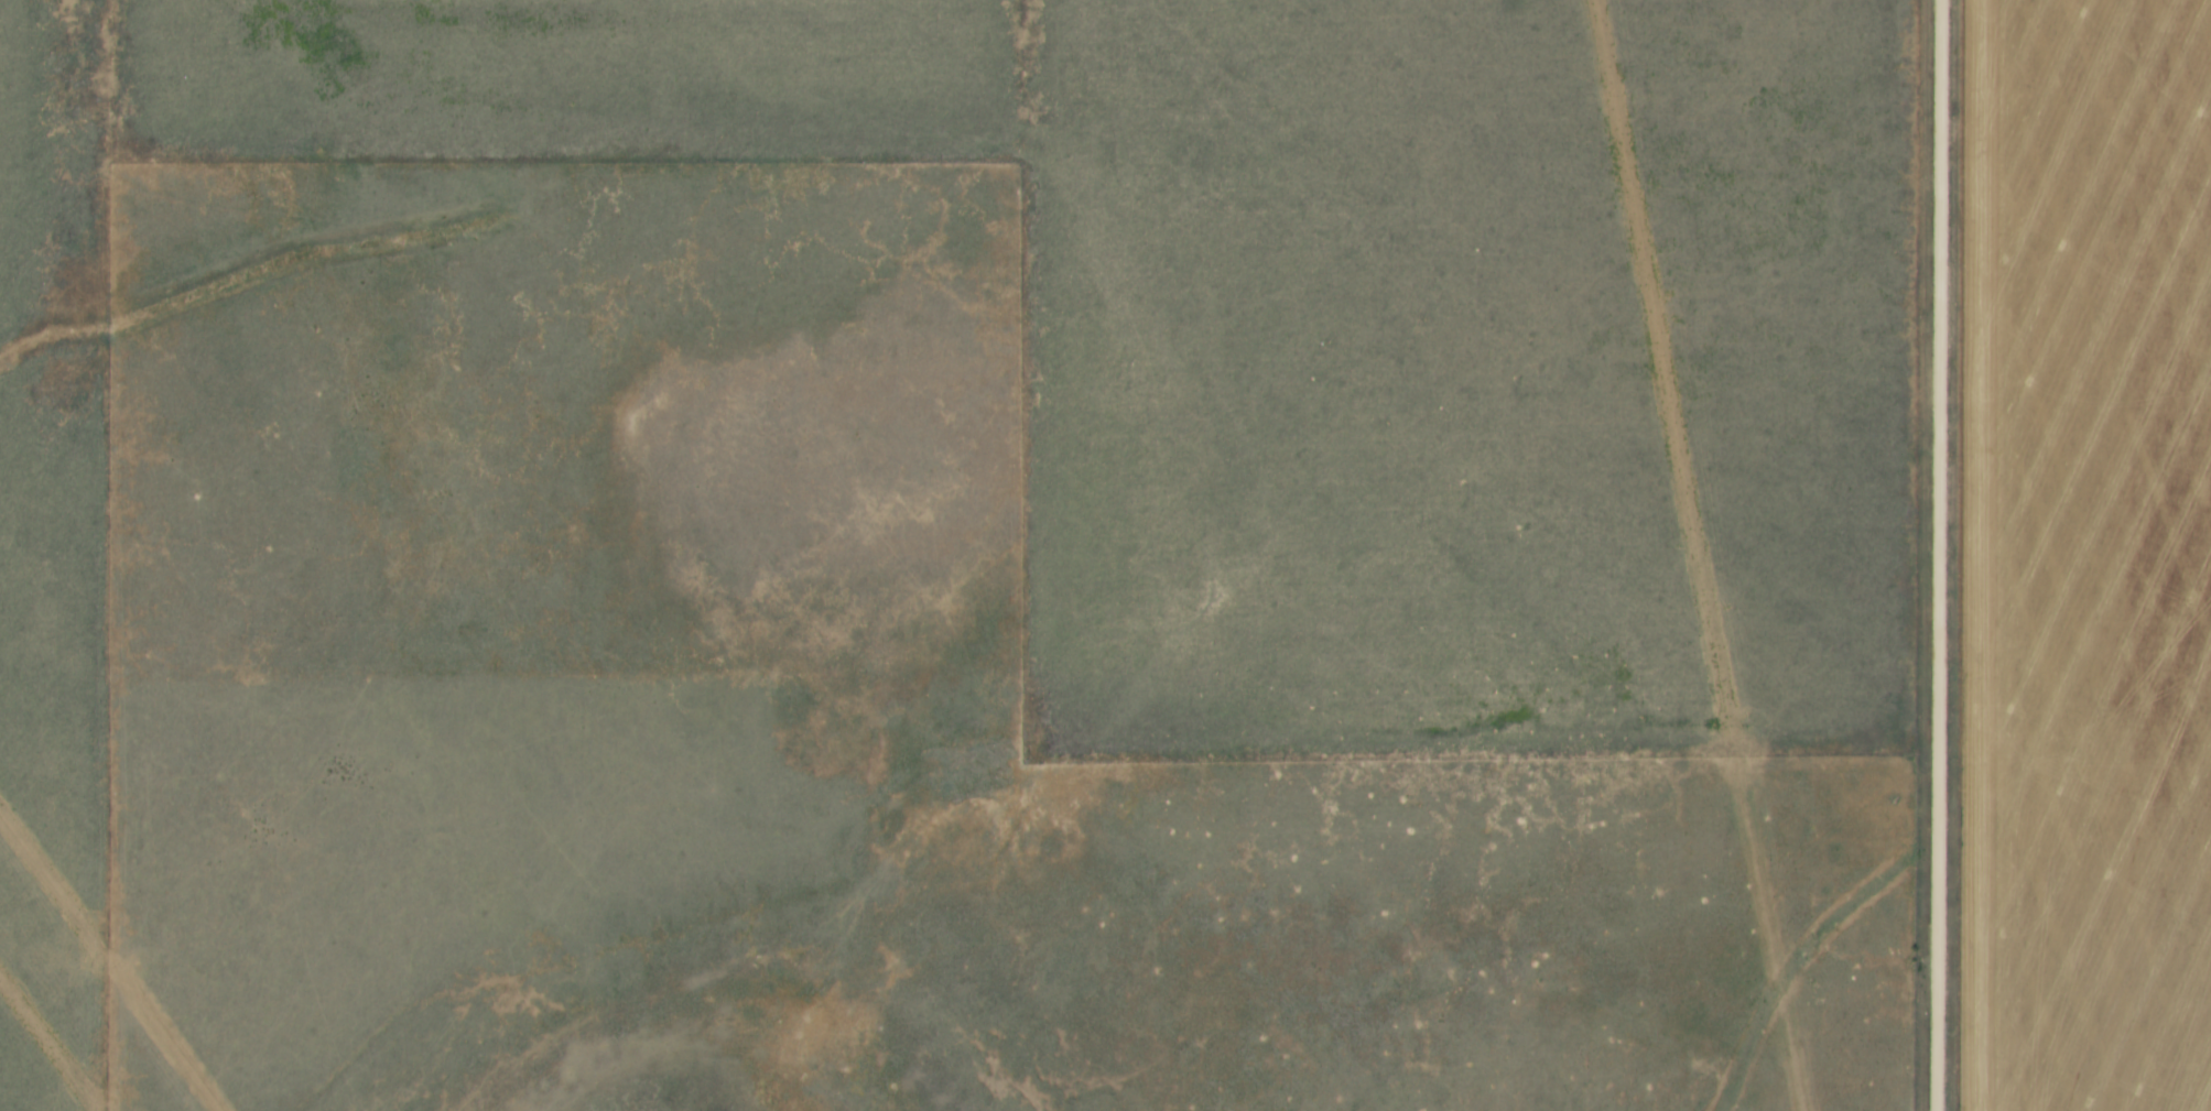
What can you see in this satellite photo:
road: (1939, 555)

